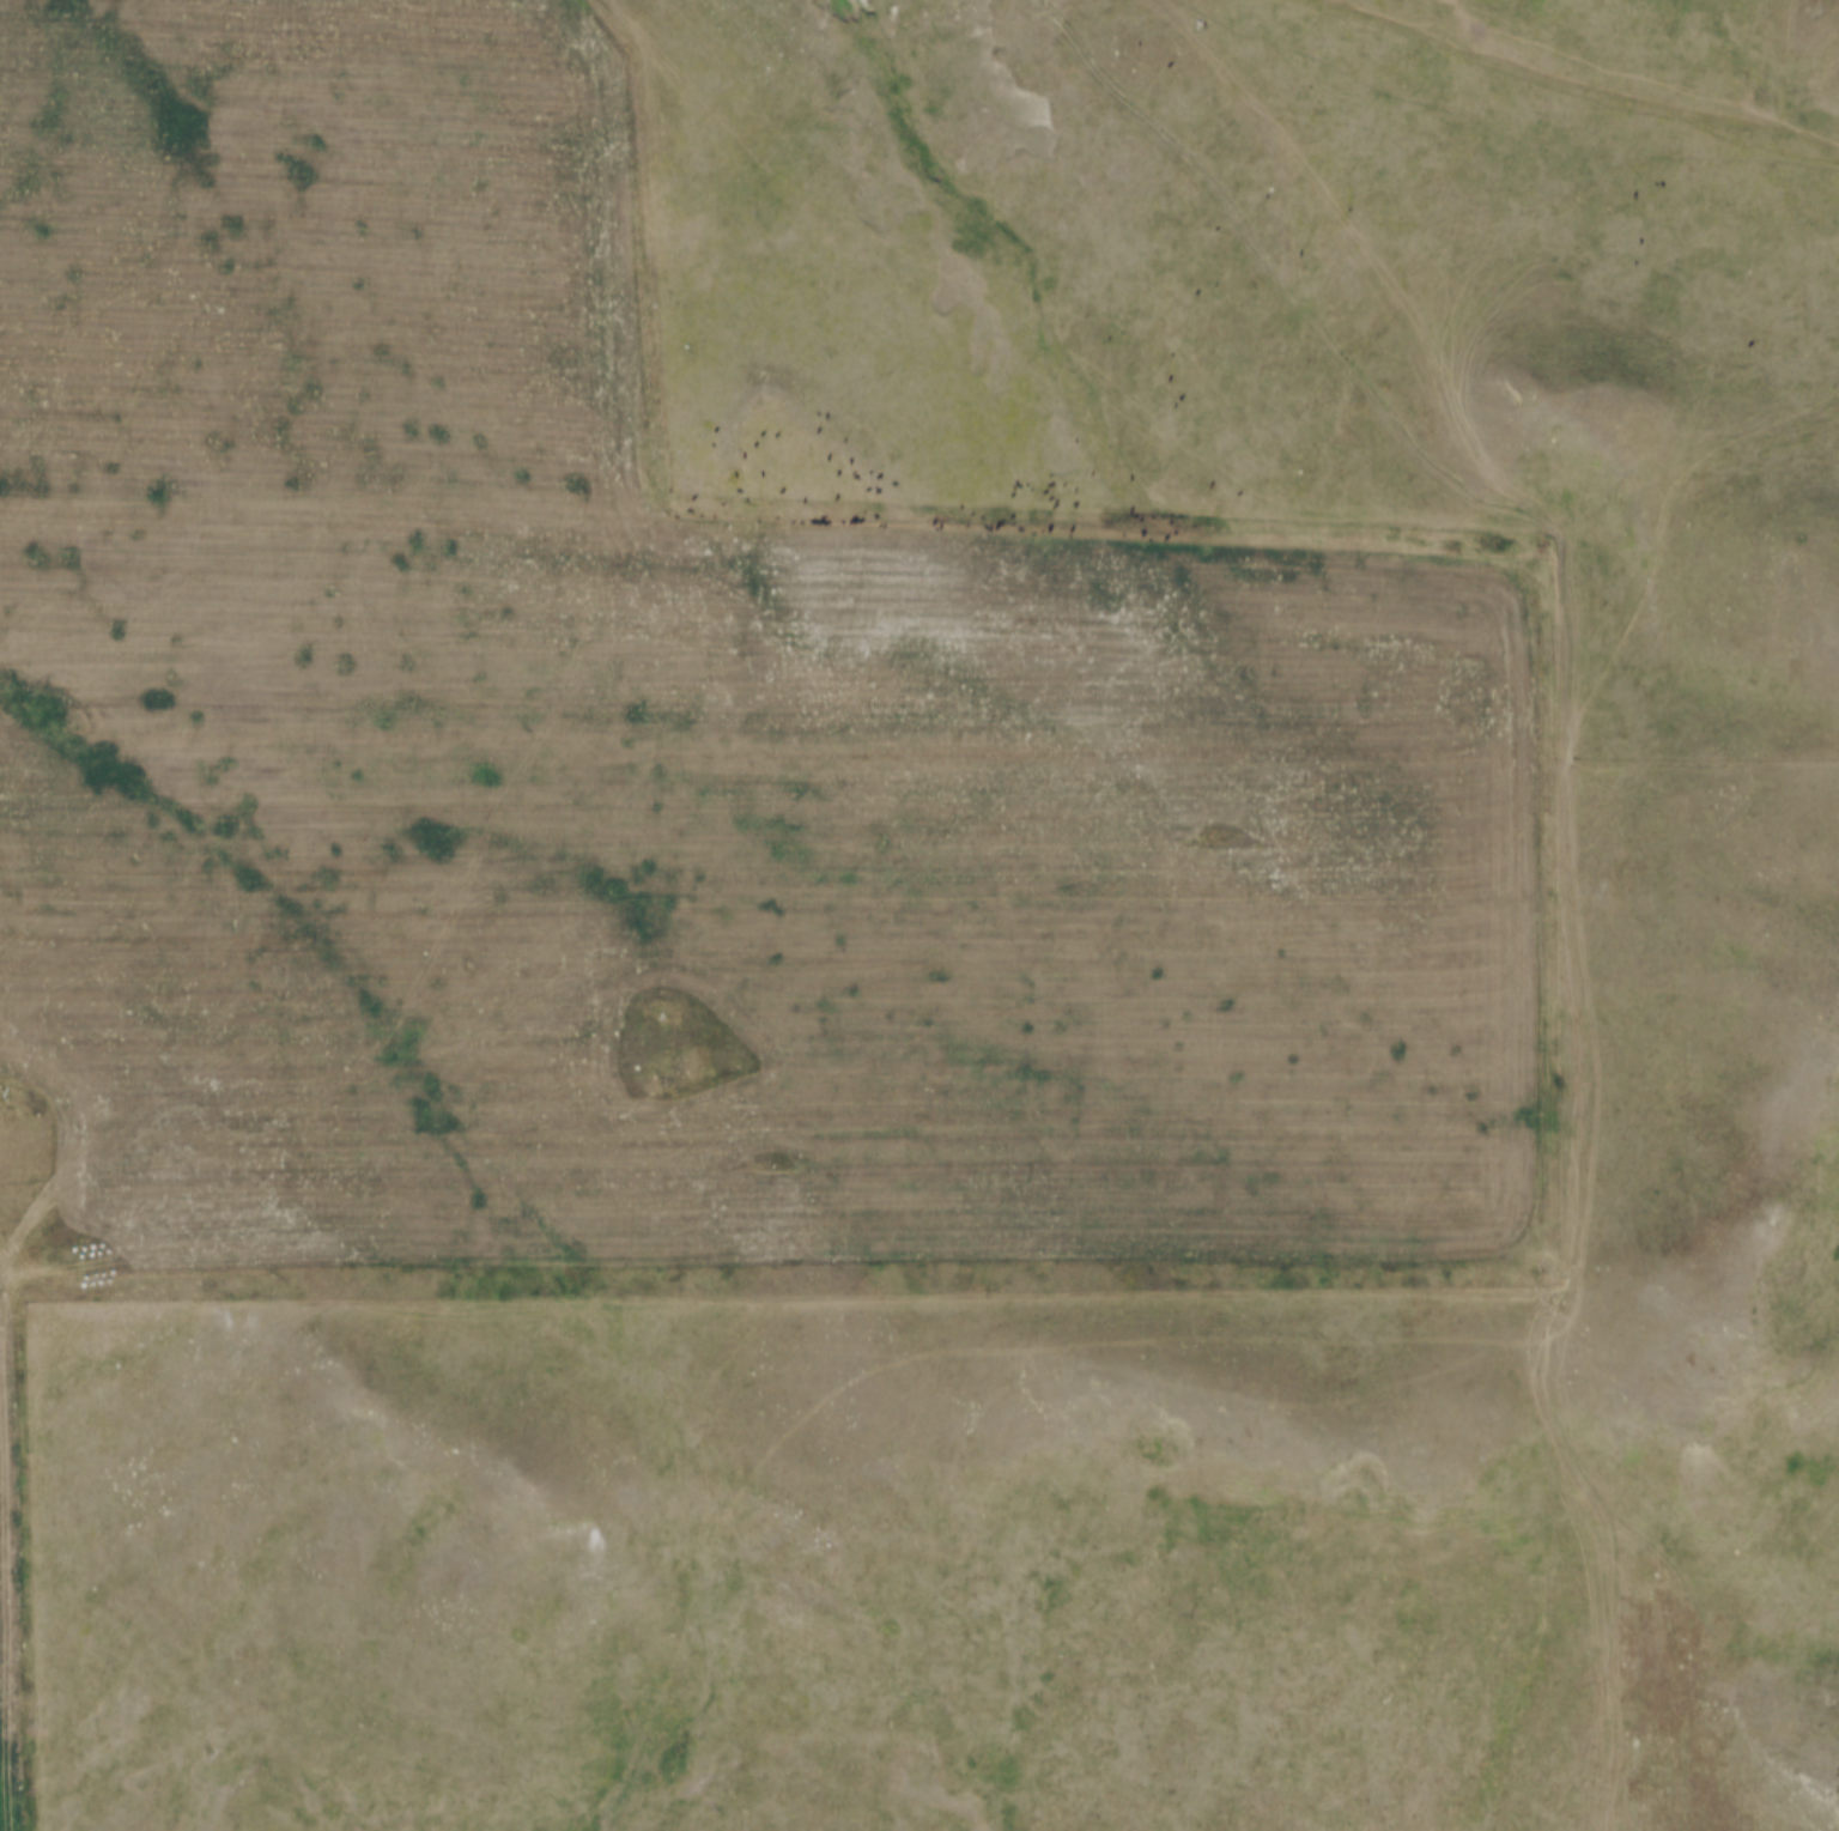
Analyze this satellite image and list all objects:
road: (1176, 340)
road: (18, 1577)

